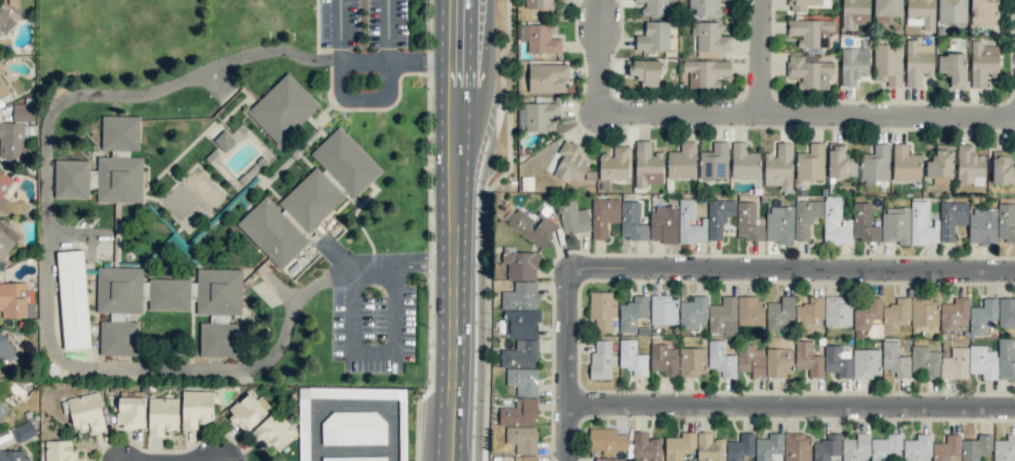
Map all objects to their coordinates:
building: (539, 4)
building: (802, 5)
building: (705, 7)
building: (656, 8)
building: (886, 9)
building: (952, 11)
building: (984, 12)
building: (855, 13)
building: (921, 13)
building: (5, 21)
building: (811, 33)
building: (654, 36)
building: (709, 37)
building: (539, 38)
road: (483, 50)
road: (363, 60)
road: (763, 61)
building: (918, 62)
building: (887, 63)
building: (983, 63)
building: (854, 64)
building: (953, 68)
road: (602, 71)
building: (645, 71)
building: (810, 72)
building: (706, 73)
building: (547, 78)
building: (3, 86)
building: (282, 109)
building: (23, 112)
building: (537, 115)
road: (808, 123)
building: (120, 132)
building: (12, 140)
building: (224, 141)
building: (682, 161)
road: (46, 162)
building: (345, 162)
building: (714, 162)
building: (744, 162)
building: (810, 162)
building: (840, 162)
building: (571, 163)
building: (614, 164)
building: (905, 164)
building: (940, 164)
building: (647, 165)
building: (875, 165)
building: (779, 166)
building: (969, 166)
building: (1002, 166)
building: (100, 179)
building: (4, 186)
building: (311, 200)
building: (603, 216)
building: (572, 217)
building: (718, 217)
building: (805, 217)
building: (951, 218)
building: (632, 221)
building: (689, 222)
building: (748, 222)
building: (835, 222)
building: (1006, 222)
building: (863, 223)
building: (663, 224)
building: (779, 224)
building: (921, 224)
building: (895, 225)
building: (533, 226)
building: (983, 226)
road: (464, 230)
building: (272, 233)
building: (6, 240)
building: (520, 263)
road: (794, 280)
building: (169, 294)
building: (520, 296)
building: (73, 299)
building: (16, 300)
building: (119, 309)
building: (218, 310)
building: (602, 310)
building: (663, 310)
building: (750, 311)
building: (809, 311)
building: (837, 311)
building: (693, 312)
building: (924, 312)
building: (1006, 312)
building: (632, 313)
building: (780, 313)
building: (867, 313)
building: (954, 314)
building: (895, 315)
building: (982, 316)
road: (352, 317)
building: (723, 317)
building: (520, 323)
building: (5, 348)
building: (520, 354)
building: (632, 358)
building: (720, 358)
building: (808, 358)
building: (663, 359)
building: (602, 360)
building: (750, 360)
building: (895, 360)
building: (1005, 360)
building: (692, 361)
building: (837, 361)
building: (923, 361)
building: (778, 362)
building: (982, 362)
building: (866, 363)
building: (955, 364)
road: (573, 370)
building: (522, 380)
road: (353, 402)
building: (196, 408)
building: (3, 410)
building: (248, 410)
building: (86, 411)
building: (130, 411)
building: (518, 413)
building: (162, 415)
road: (794, 415)
building: (354, 428)
building: (23, 431)
building: (274, 432)
building: (304, 436)
building: (402, 439)
building: (522, 439)
building: (607, 440)
building: (679, 446)
building: (645, 447)
building: (710, 447)
building: (740, 447)
building: (796, 447)
building: (827, 447)
building: (885, 447)
building: (975, 447)
building: (769, 448)
building: (856, 448)
building: (917, 448)
building: (947, 449)
building: (1004, 449)
building: (60, 451)
building: (14, 456)
building: (355, 458)
building: (525, 458)
building: (609, 459)

